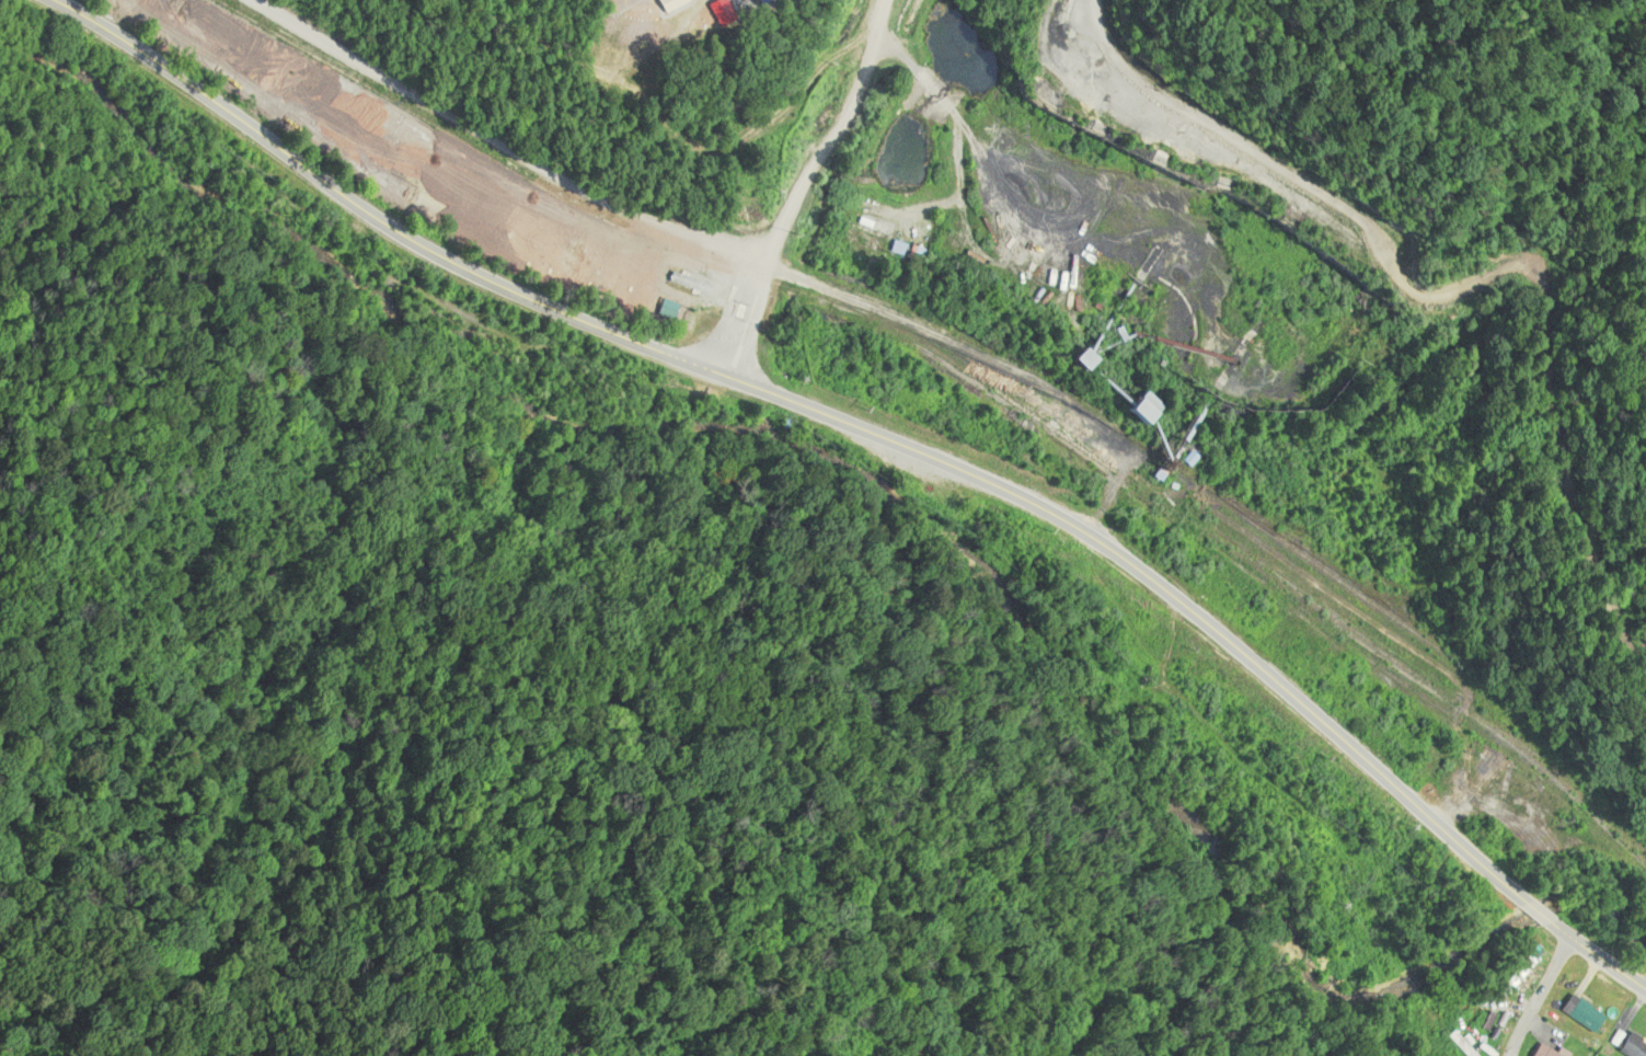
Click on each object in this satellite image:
road: (1119, 104)
road: (497, 145)
road: (105, 160)
road: (797, 183)
building: (867, 241)
railway: (963, 377)
road: (878, 436)
road: (1531, 992)
building: (1578, 1014)
building: (1623, 1041)
building: (1543, 1052)

